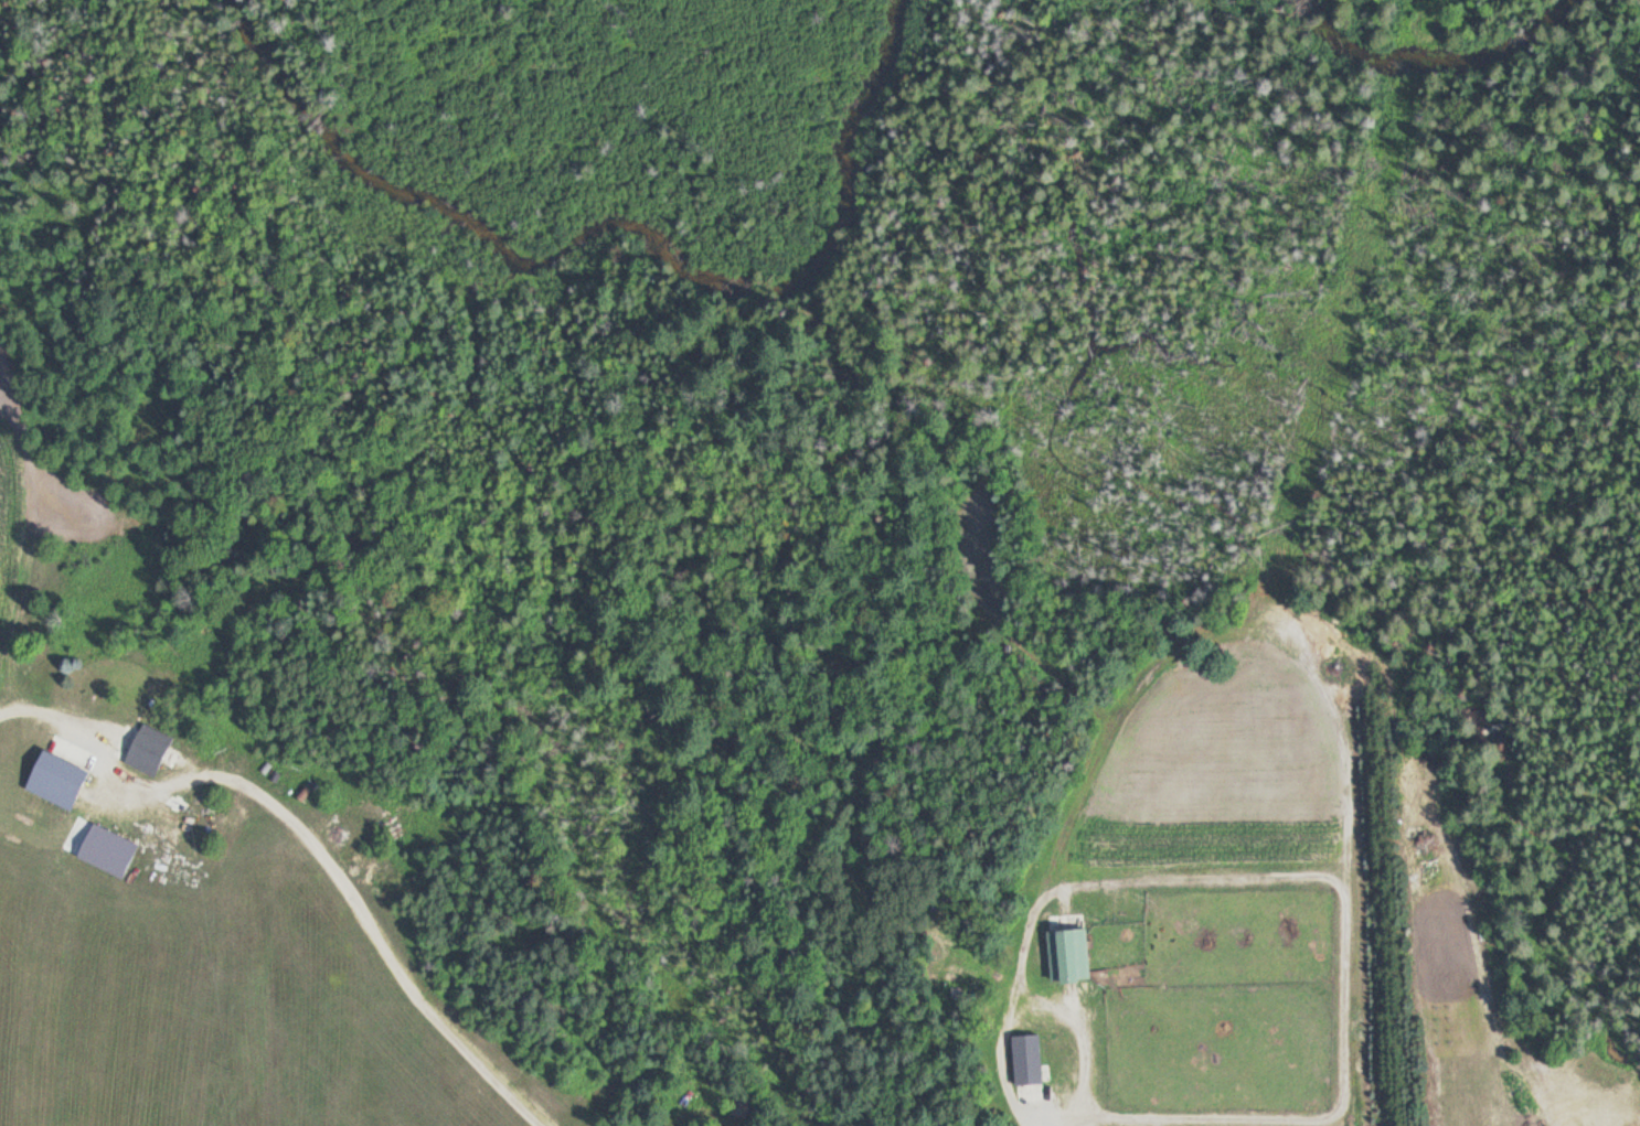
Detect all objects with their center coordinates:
building: (147, 675)
building: (145, 749)
building: (51, 780)
road: (320, 849)
building: (1056, 955)
road: (1013, 988)
building: (1023, 1058)
building: (737, 1105)

